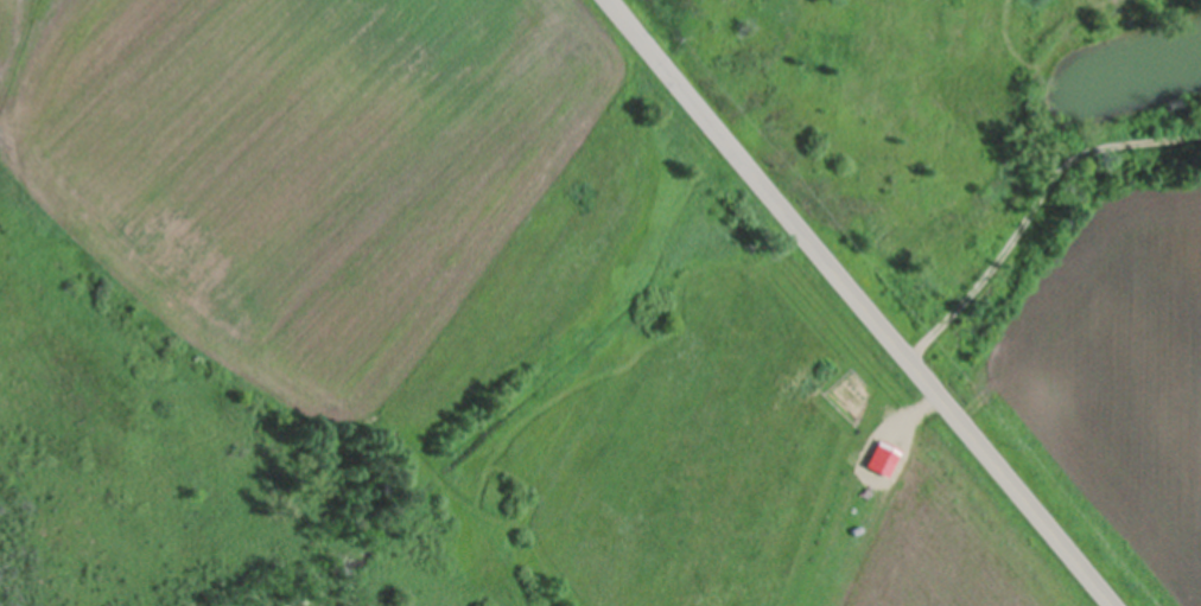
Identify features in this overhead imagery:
road: (1041, 218)
road: (873, 302)

